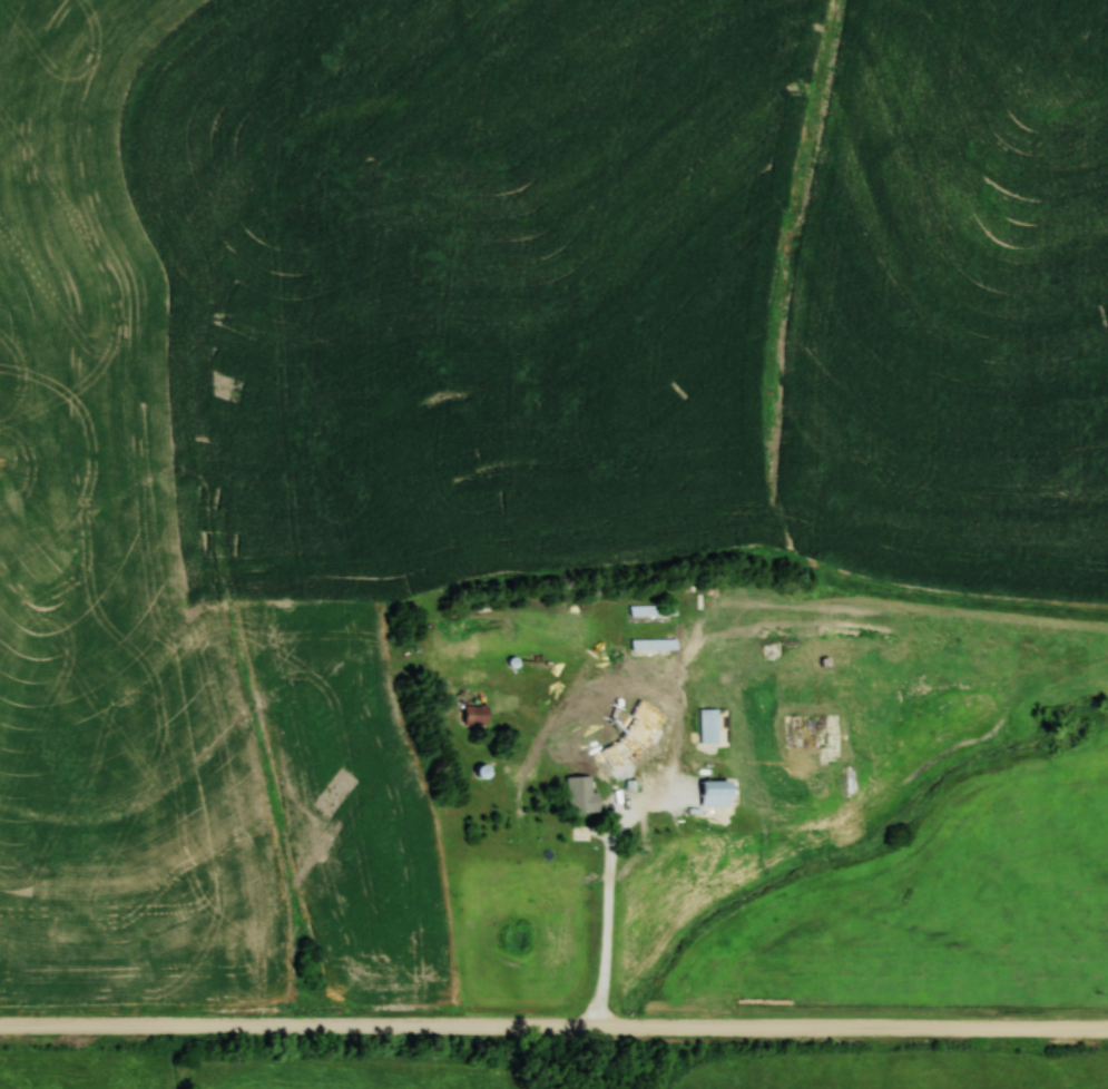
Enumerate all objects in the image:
building: (655, 609)
building: (656, 642)
building: (710, 725)
building: (718, 793)
building: (582, 794)
road: (609, 939)
road: (553, 1031)

